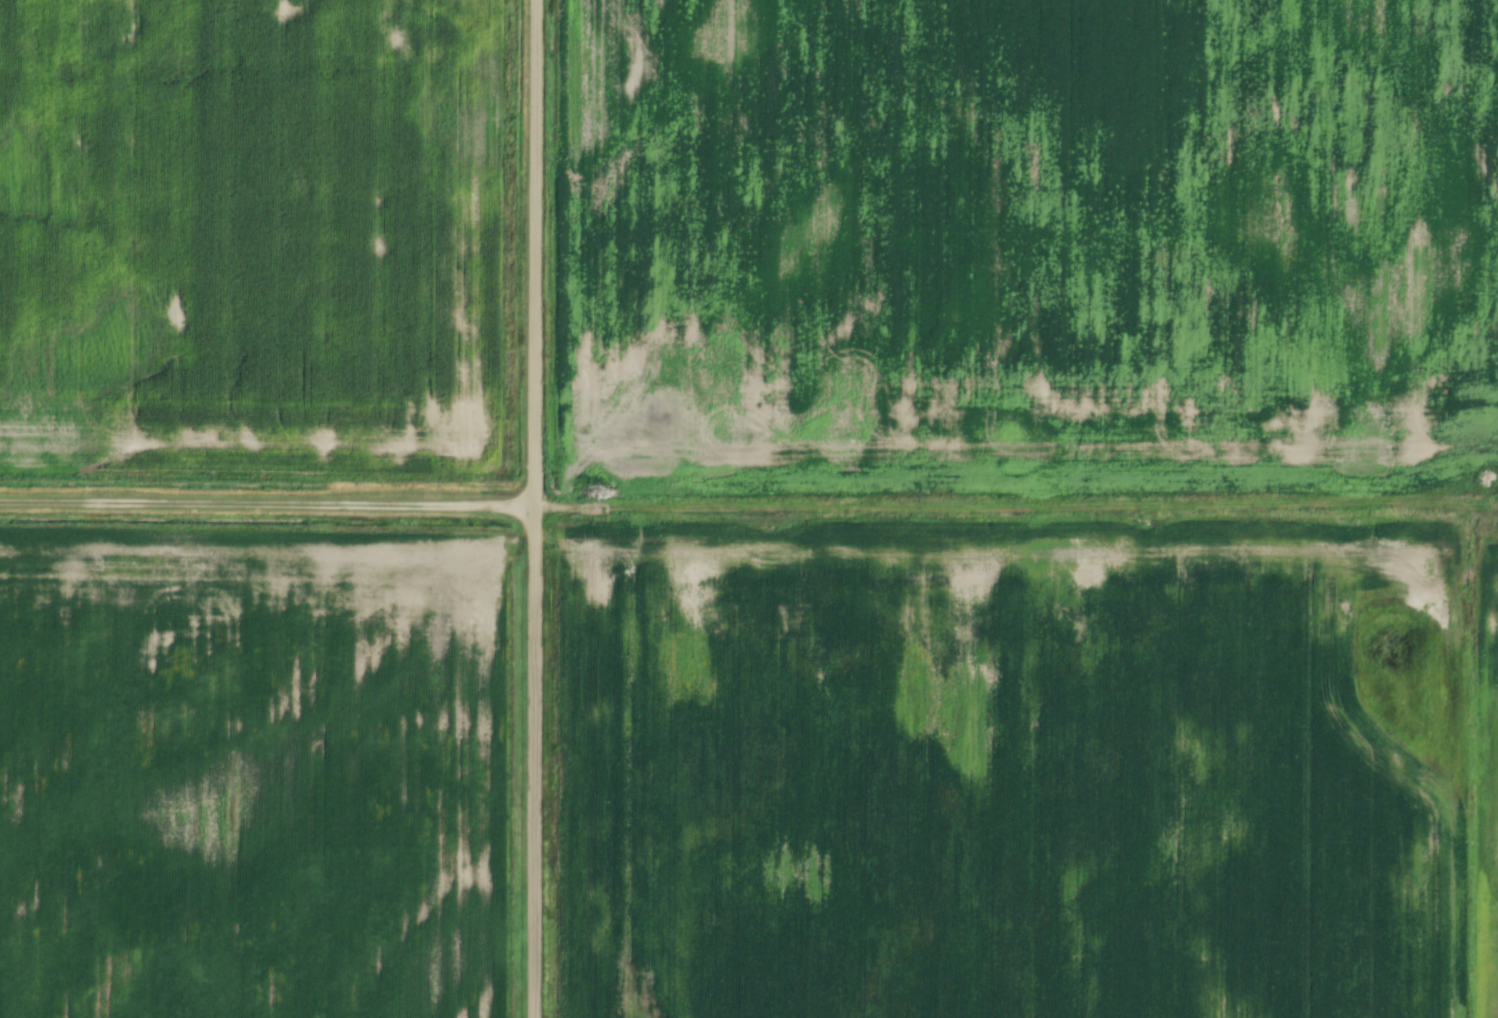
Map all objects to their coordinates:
road: (749, 507)
road: (535, 509)

